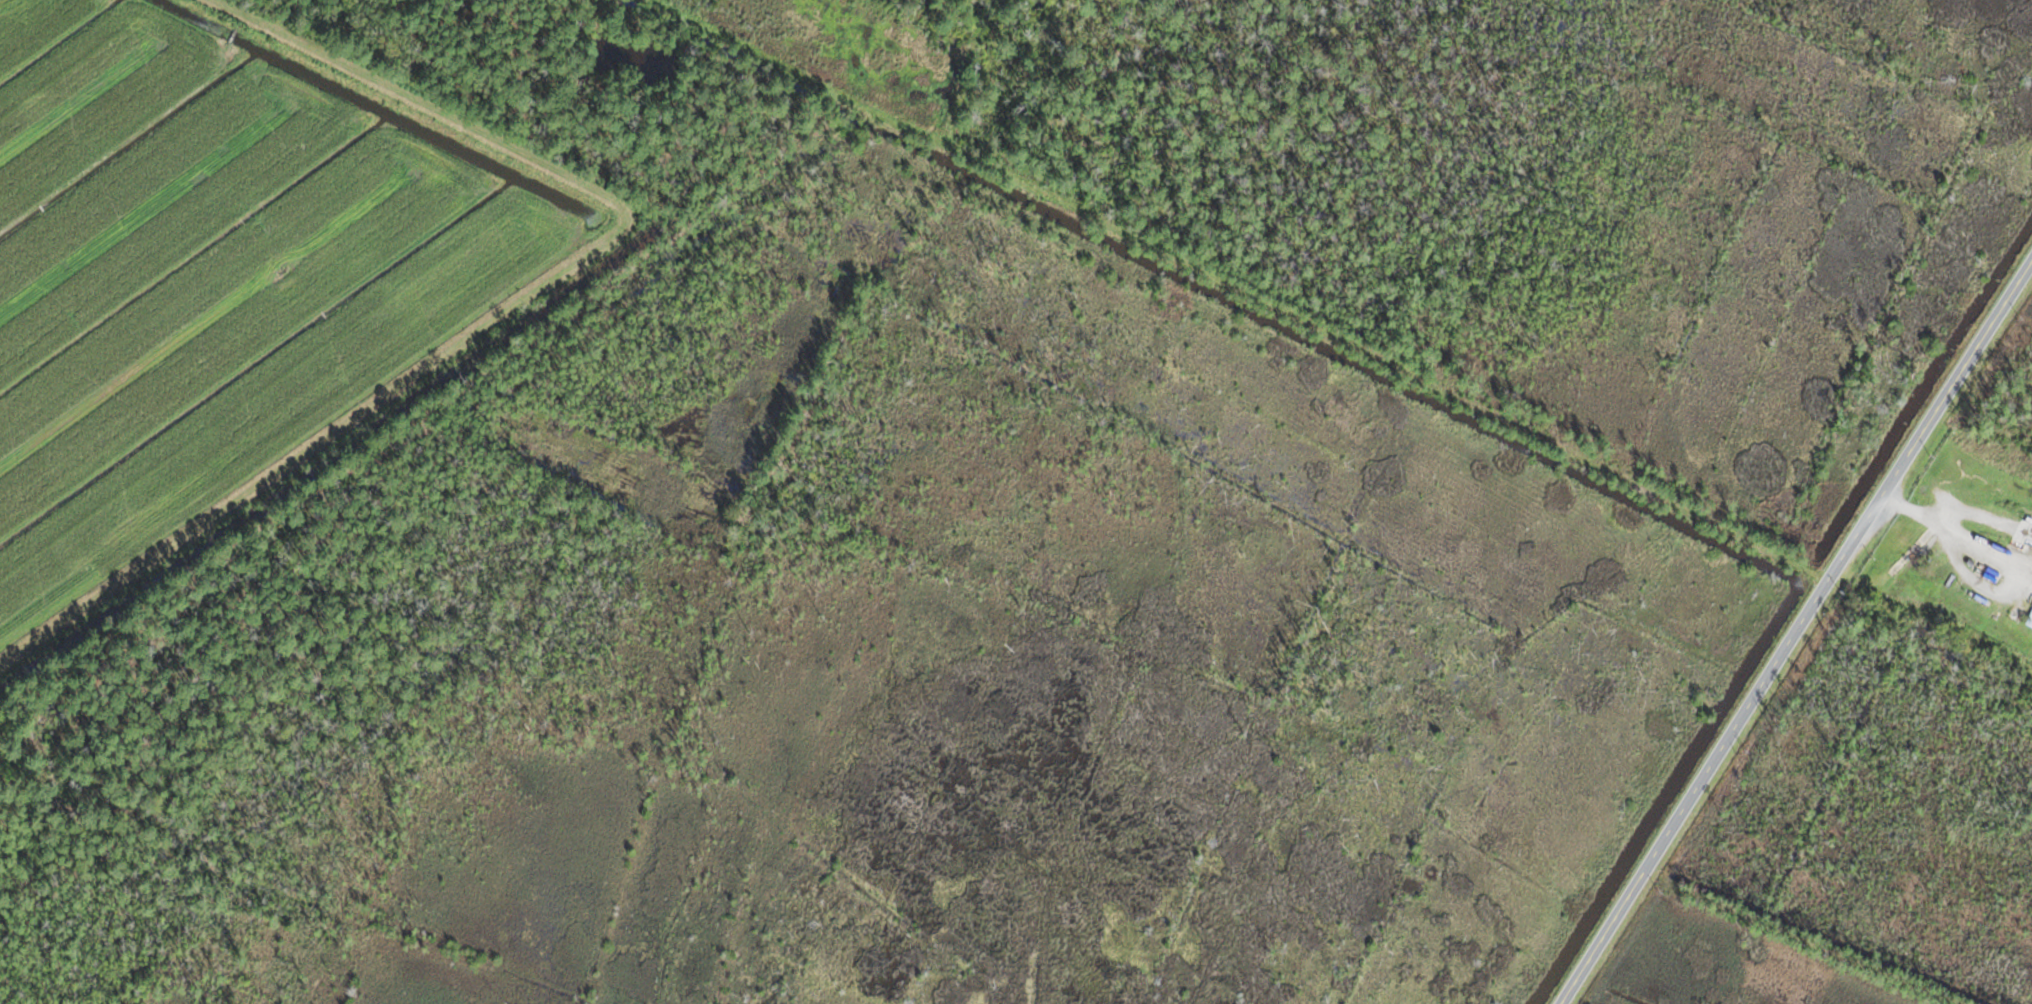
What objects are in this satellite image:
road: (1793, 630)
road: (1795, 940)

